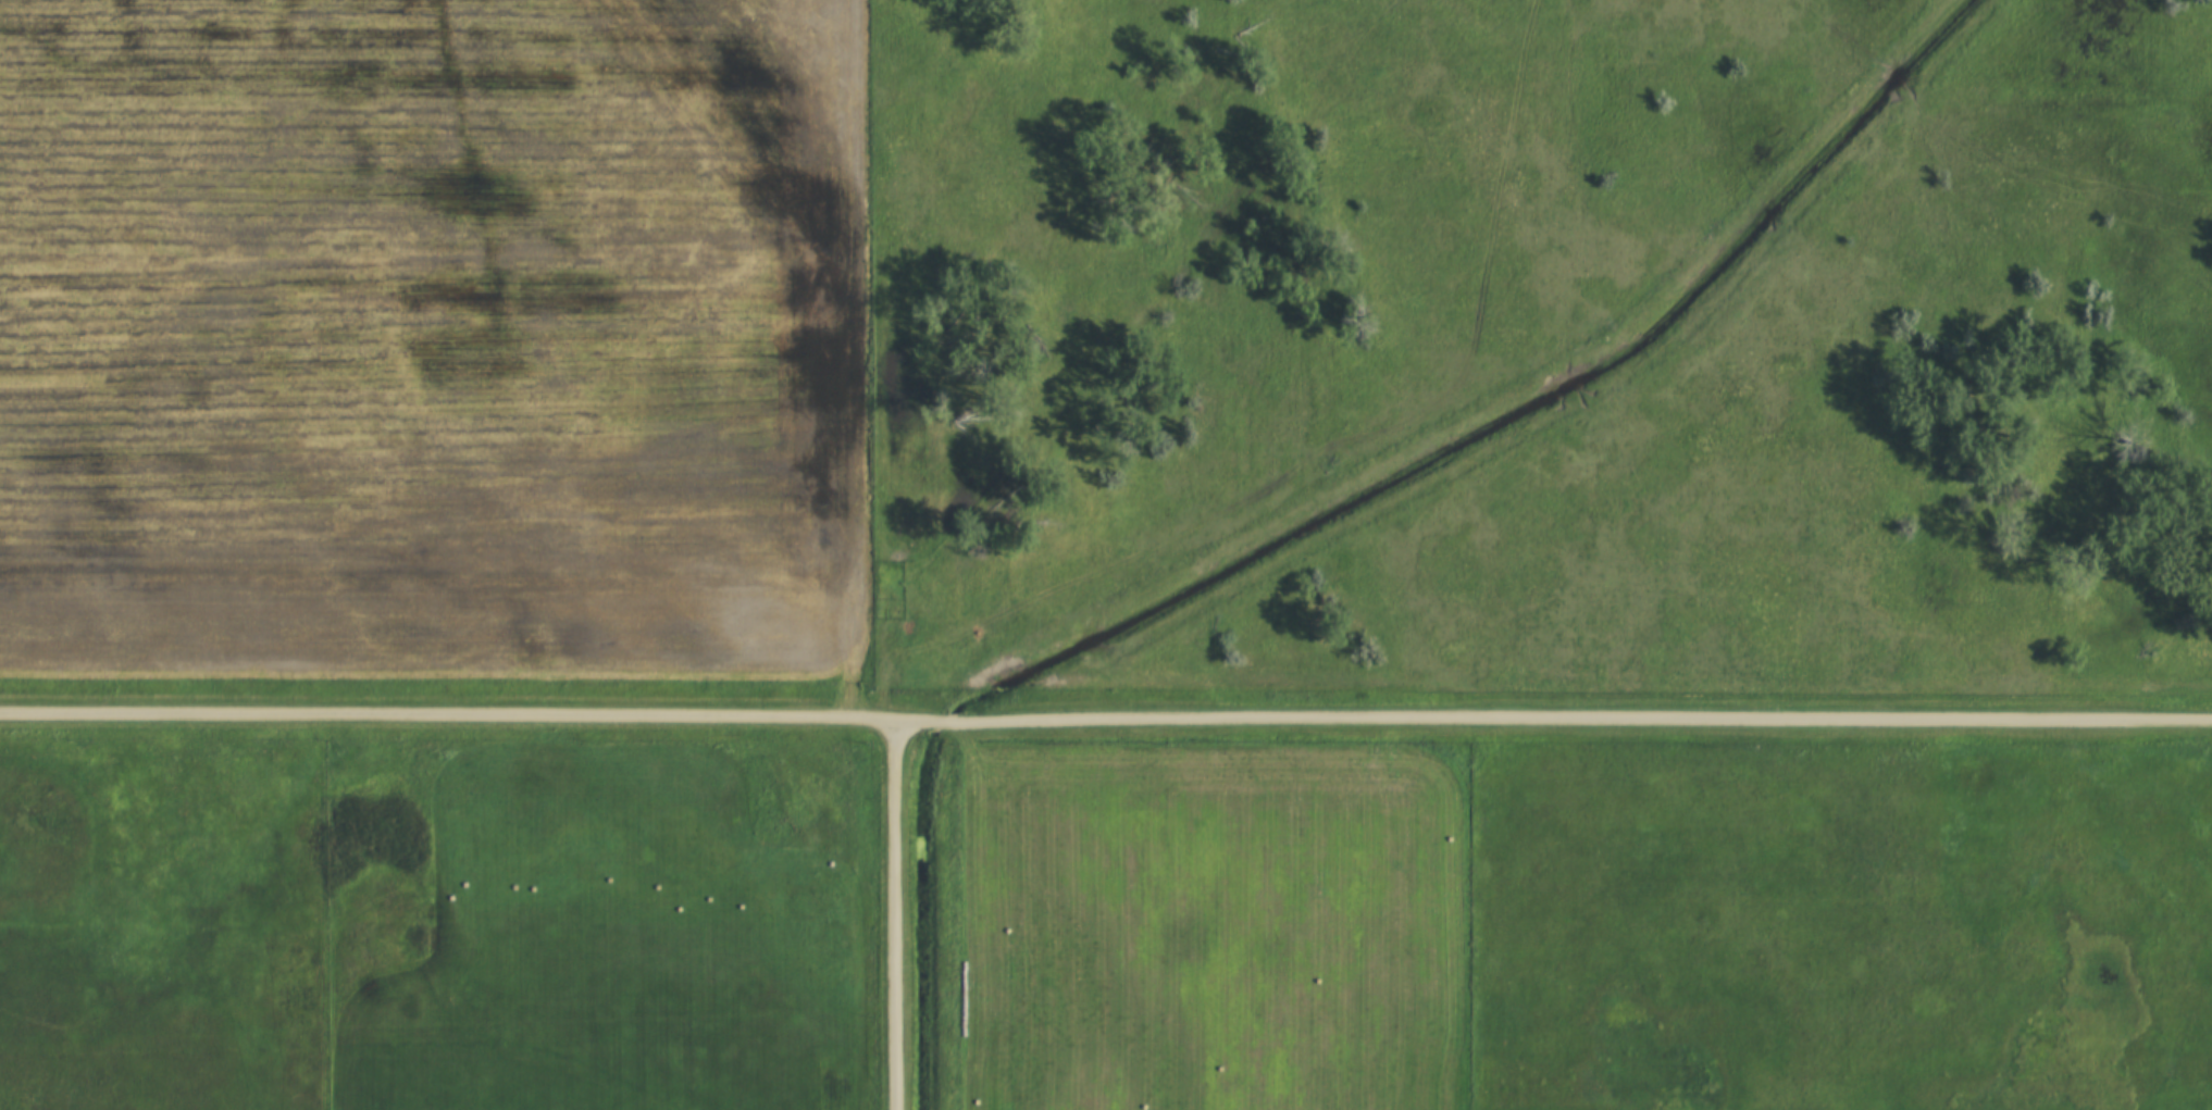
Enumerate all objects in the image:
road: (463, 714)
road: (1581, 719)
road: (940, 723)
road: (893, 915)

